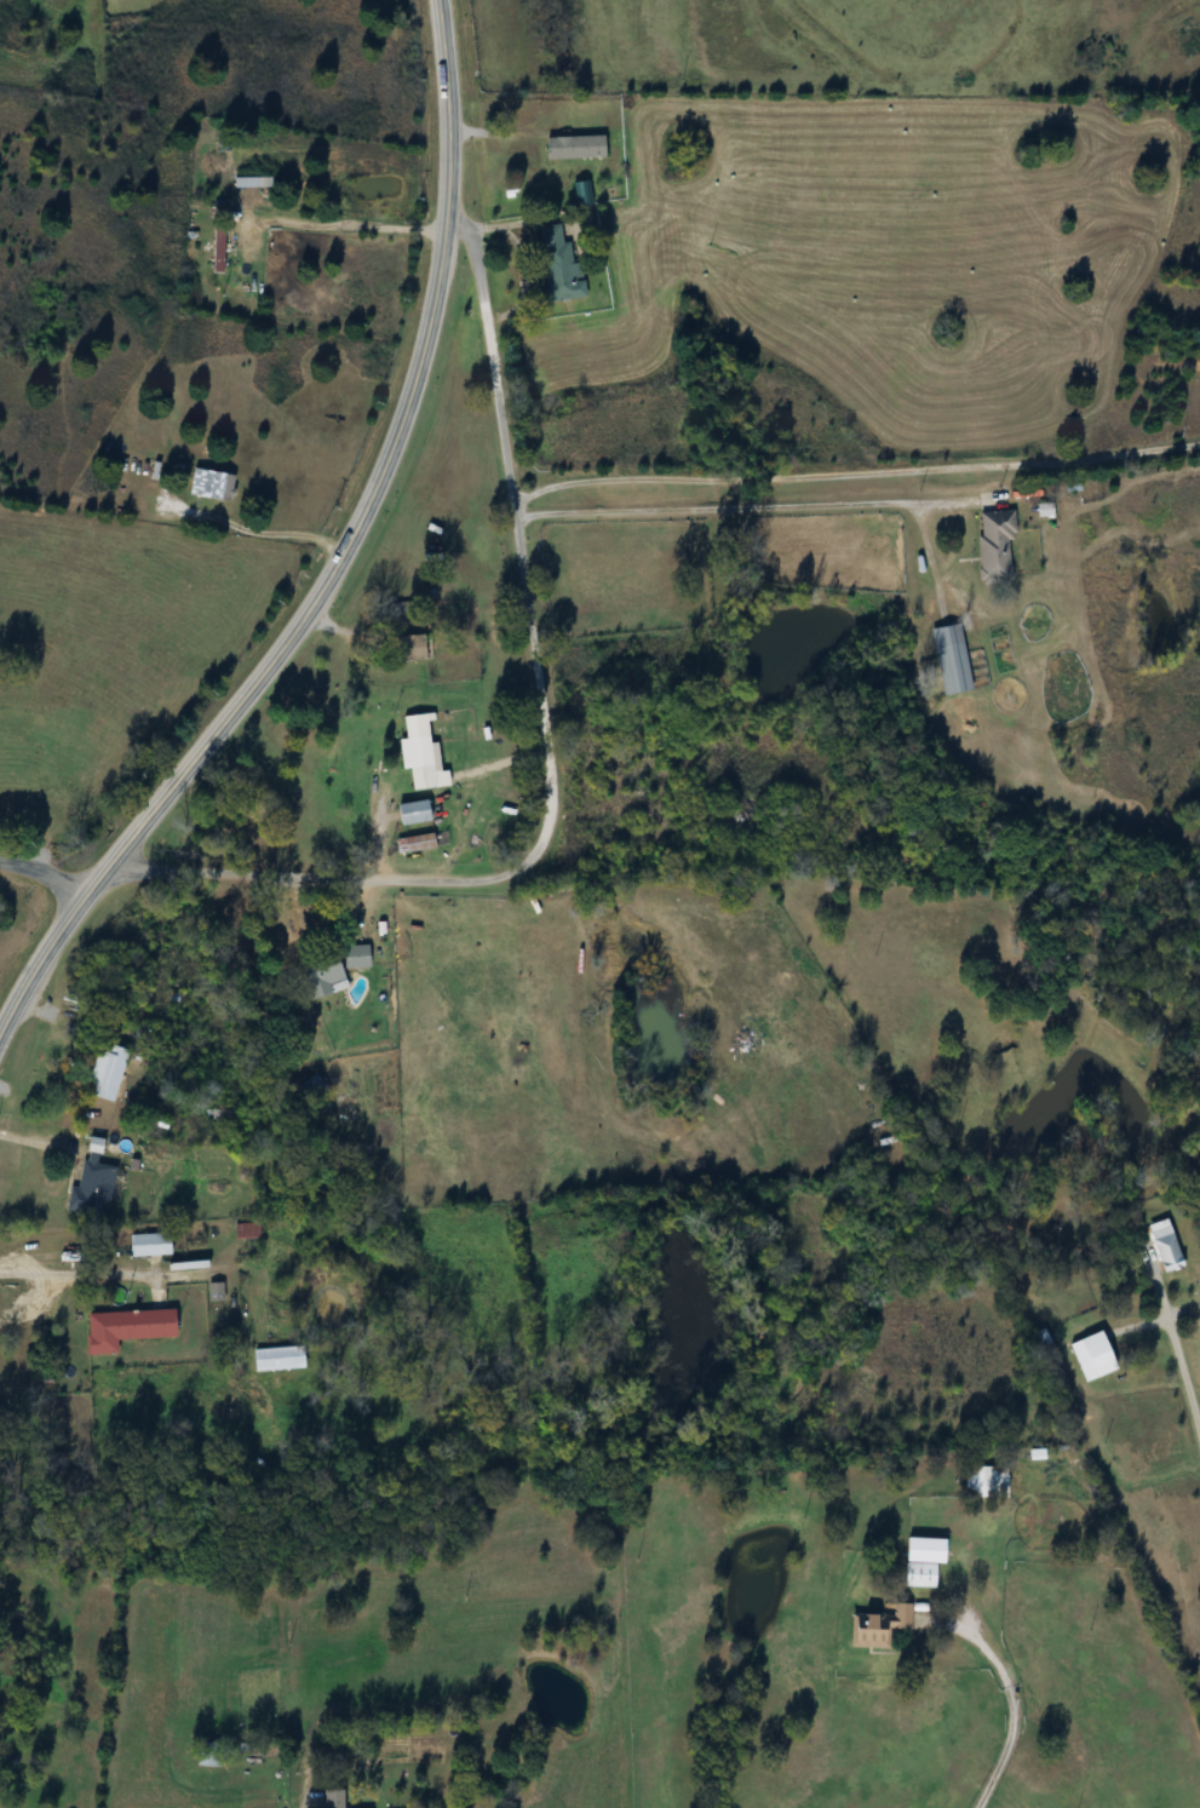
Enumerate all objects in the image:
building: (578, 147)
building: (584, 199)
road: (346, 224)
building: (220, 248)
building: (562, 265)
road: (854, 470)
building: (216, 483)
road: (743, 506)
road: (249, 529)
building: (992, 546)
road: (335, 559)
building: (414, 647)
building: (946, 659)
road: (542, 744)
building: (421, 760)
building: (419, 813)
building: (423, 843)
road: (44, 873)
building: (334, 969)
building: (110, 1072)
building: (314, 1090)
road: (36, 1138)
building: (96, 1184)
building: (248, 1230)
building: (154, 1244)
building: (1159, 1246)
road: (74, 1274)
building: (132, 1328)
road: (1173, 1335)
building: (1091, 1354)
building: (282, 1359)
building: (982, 1481)
building: (924, 1575)
building: (880, 1626)
road: (1001, 1712)
building: (331, 1797)

